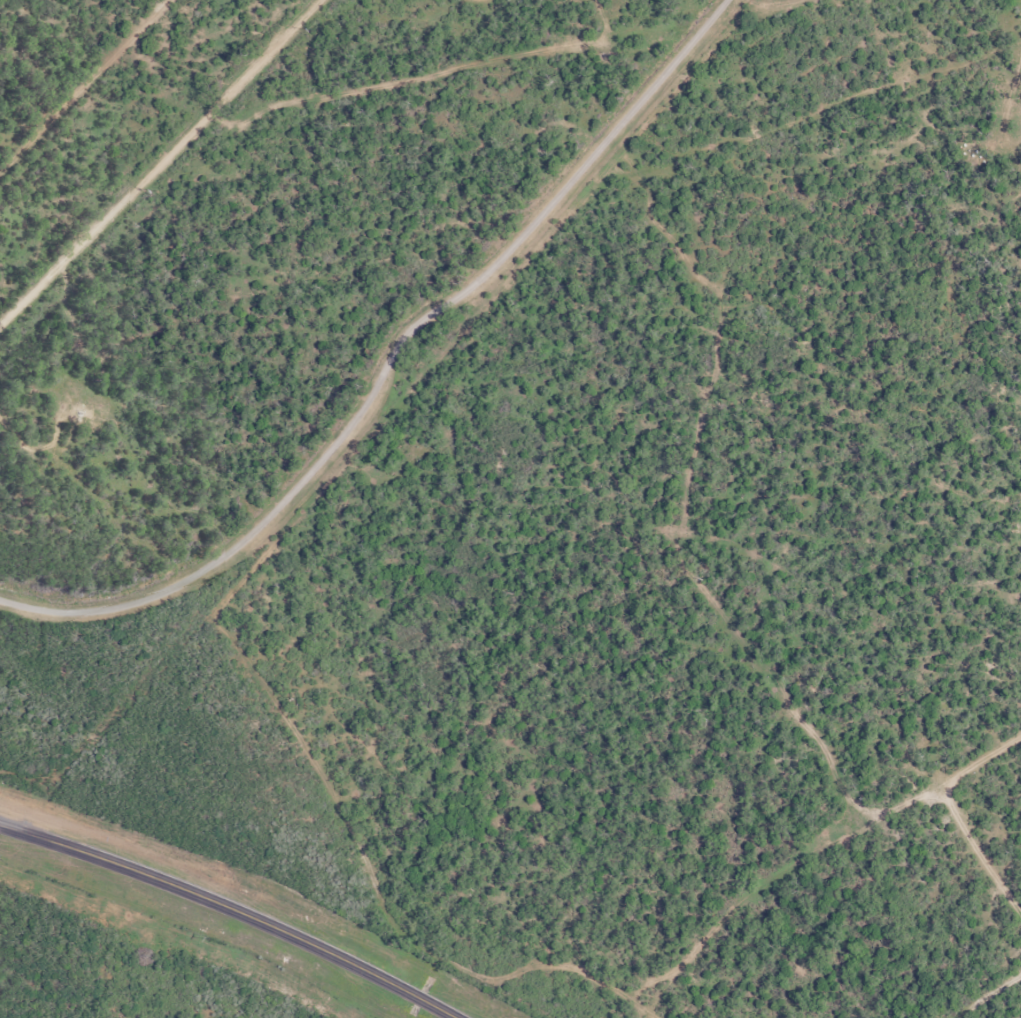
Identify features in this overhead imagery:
road: (175, 180)
road: (231, 910)

